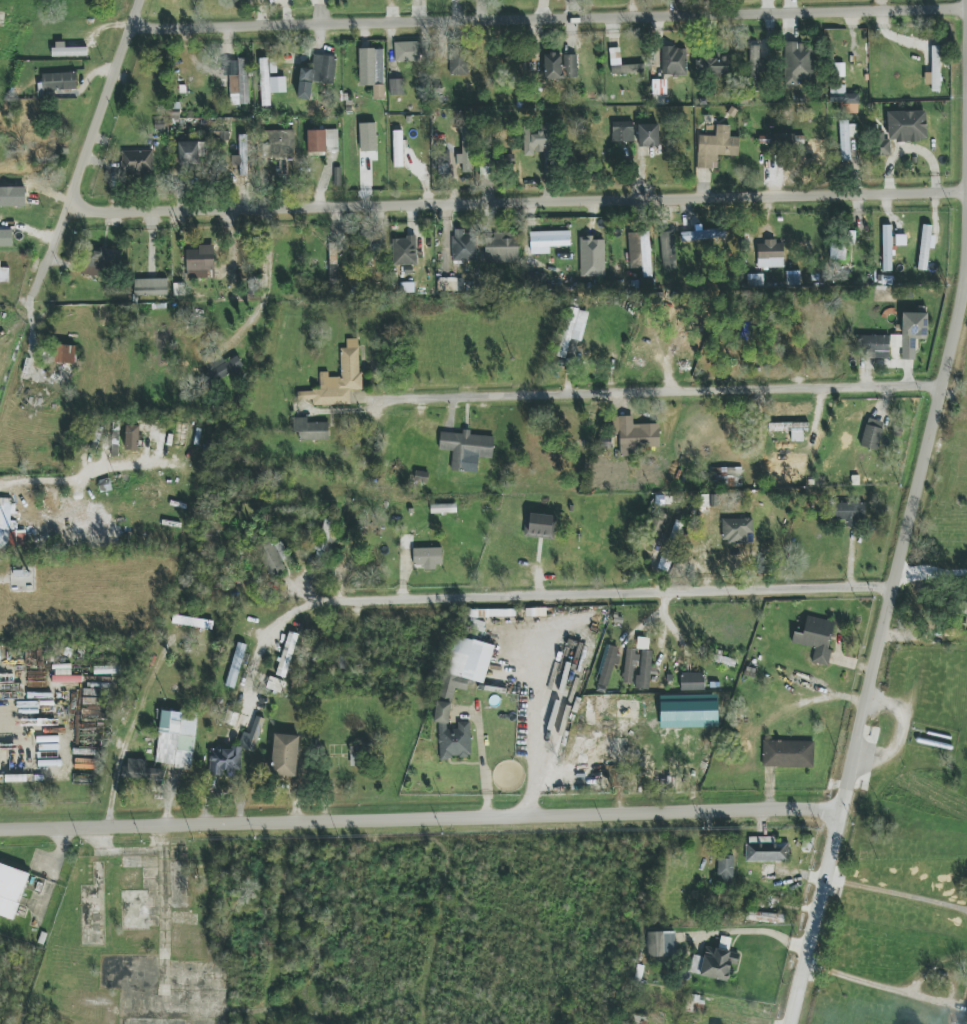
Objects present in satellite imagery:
road: (549, 19)
building: (68, 50)
building: (406, 51)
building: (459, 61)
building: (674, 61)
building: (756, 63)
building: (799, 63)
building: (711, 65)
building: (553, 66)
building: (570, 66)
building: (625, 68)
building: (320, 70)
building: (372, 70)
building: (934, 70)
building: (270, 80)
building: (58, 82)
building: (239, 82)
building: (396, 87)
building: (658, 92)
building: (844, 99)
building: (907, 126)
building: (623, 132)
building: (648, 135)
building: (368, 137)
building: (846, 138)
building: (781, 140)
building: (323, 141)
building: (537, 143)
building: (279, 144)
building: (882, 146)
building: (716, 147)
road: (90, 149)
building: (398, 149)
building: (465, 152)
building: (191, 153)
building: (241, 155)
building: (137, 161)
building: (442, 162)
building: (488, 166)
building: (12, 196)
road: (518, 202)
building: (703, 234)
building: (6, 238)
building: (548, 241)
building: (464, 245)
building: (924, 247)
building: (502, 248)
building: (887, 248)
building: (372, 250)
building: (668, 250)
building: (404, 251)
building: (639, 252)
building: (770, 254)
building: (592, 257)
building: (102, 261)
building: (200, 262)
building: (333, 264)
building: (4, 275)
building: (446, 286)
building: (150, 287)
building: (572, 329)
building: (909, 334)
building: (874, 346)
building: (64, 354)
building: (226, 367)
building: (338, 379)
road: (665, 391)
building: (790, 429)
building: (310, 430)
building: (872, 434)
building: (634, 435)
building: (132, 438)
building: (466, 449)
building: (727, 477)
road: (34, 480)
building: (443, 508)
building: (851, 513)
building: (540, 526)
building: (10, 528)
building: (737, 531)
building: (328, 533)
road: (905, 534)
building: (274, 556)
building: (428, 557)
road: (594, 592)
building: (966, 621)
building: (192, 622)
building: (816, 639)
road: (258, 654)
building: (287, 654)
building: (723, 659)
building: (466, 664)
building: (630, 664)
building: (235, 665)
building: (607, 665)
building: (644, 669)
building: (692, 681)
building: (274, 685)
building: (601, 707)
road: (7, 710)
road: (534, 723)
building: (452, 734)
building: (252, 736)
building: (175, 739)
building: (788, 754)
building: (285, 755)
building: (225, 762)
road: (485, 762)
building: (141, 770)
road: (422, 819)
building: (766, 850)
building: (725, 869)
building: (11, 890)
road: (899, 895)
road: (164, 908)
road: (821, 916)
building: (765, 917)
road: (769, 933)
building: (661, 944)
building: (714, 964)
road: (887, 986)
building: (695, 1004)

